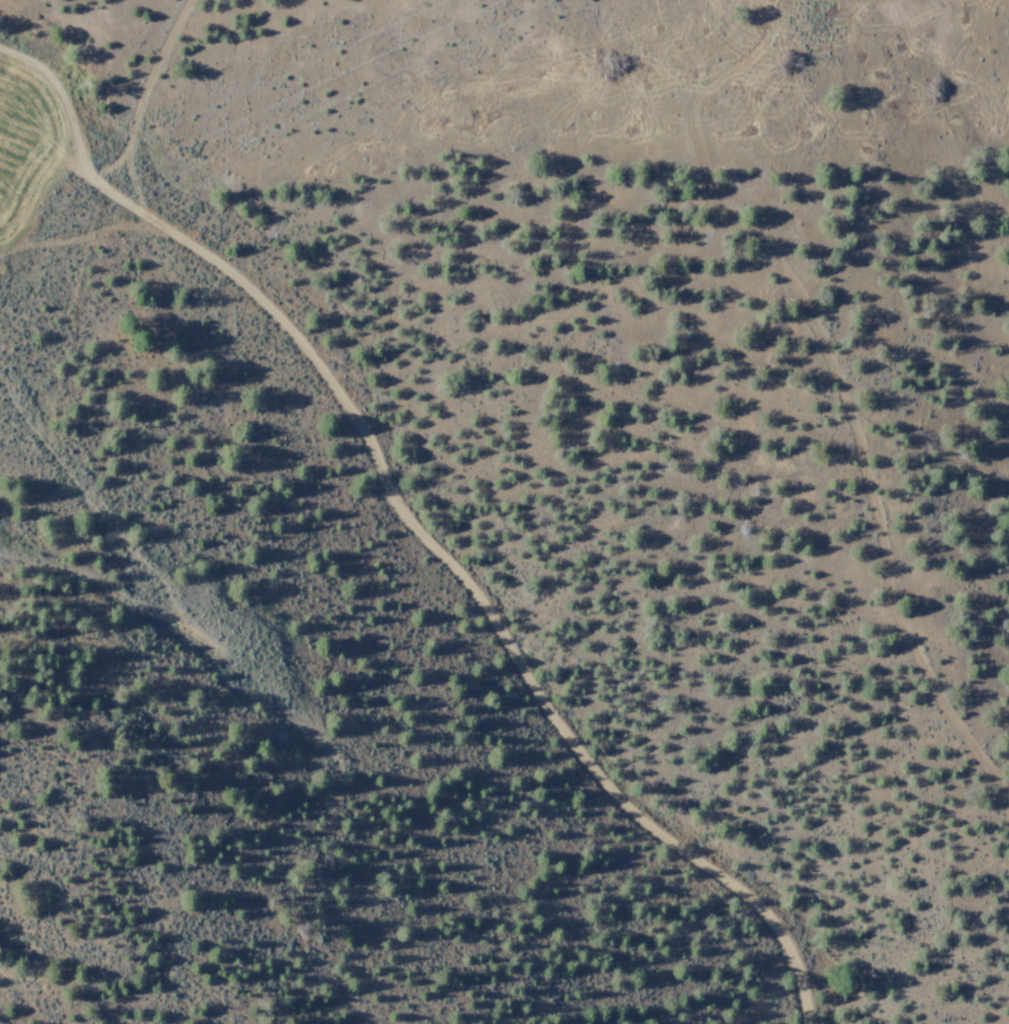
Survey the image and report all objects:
road: (412, 522)

